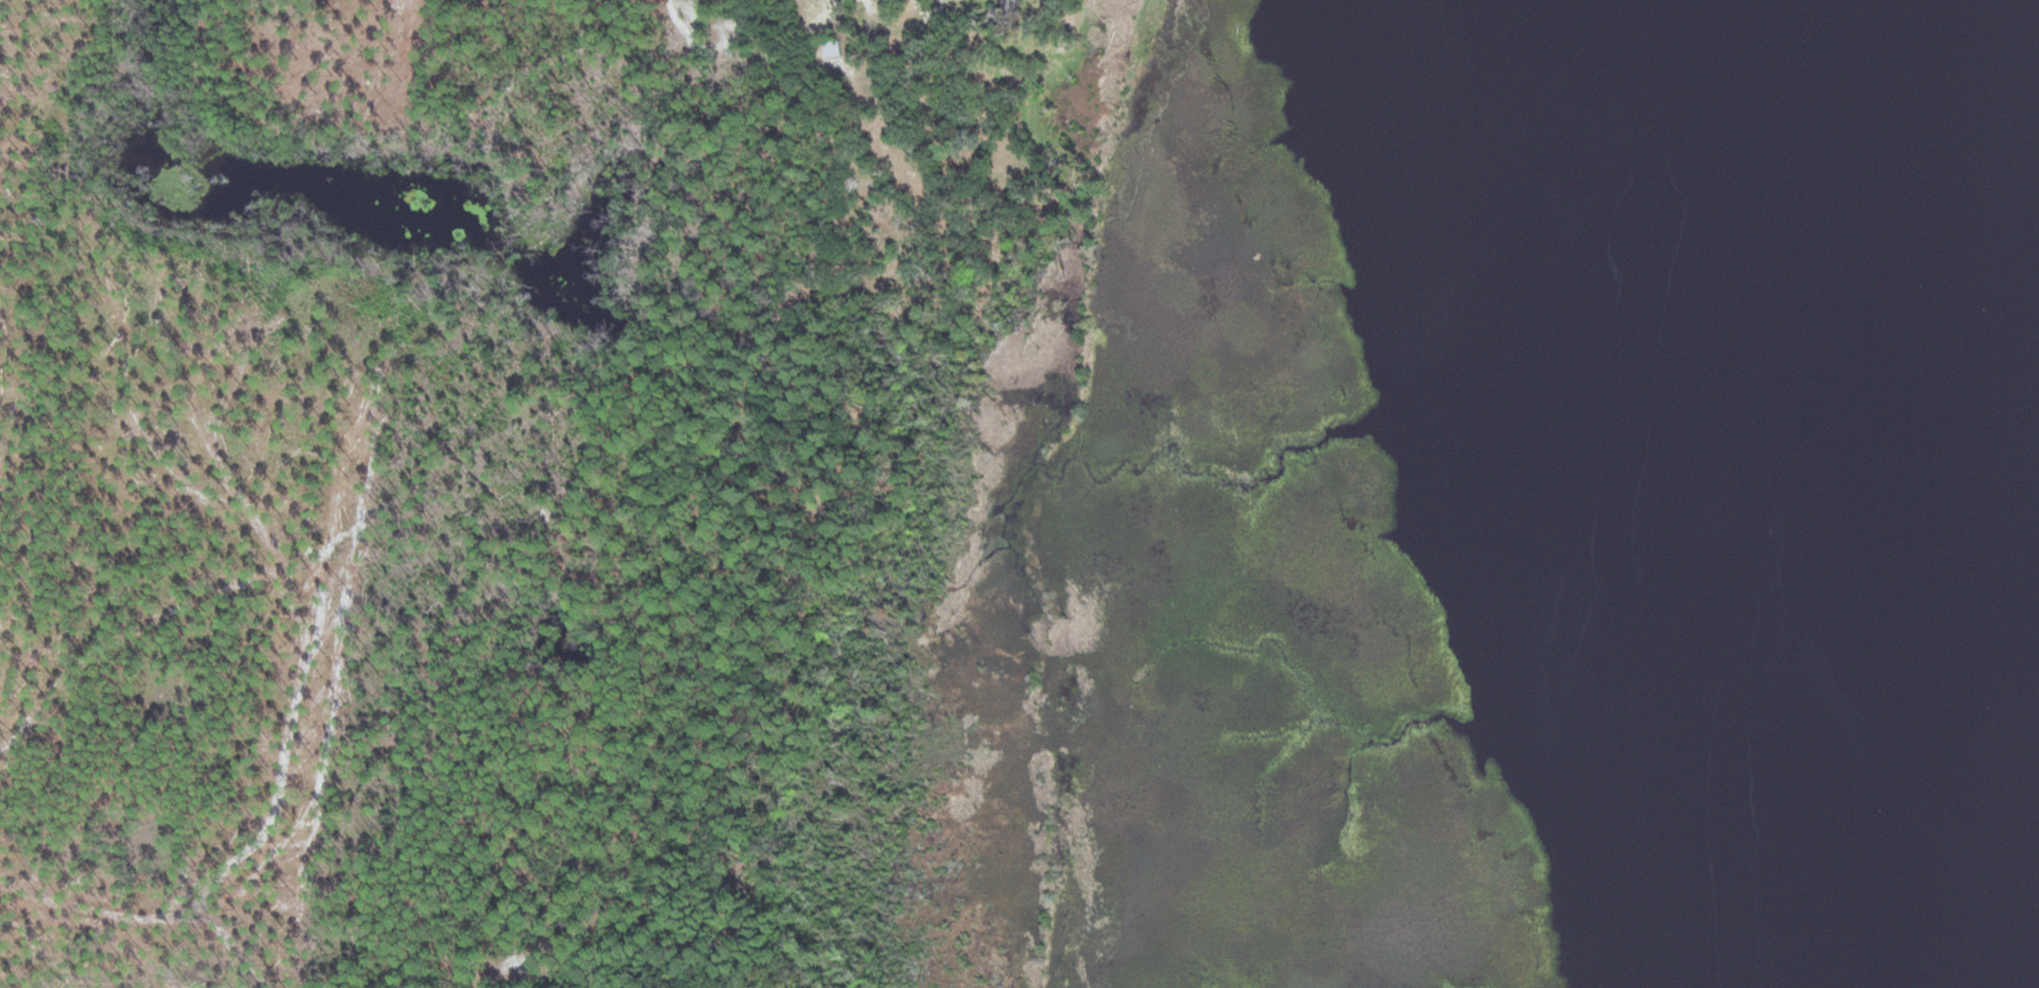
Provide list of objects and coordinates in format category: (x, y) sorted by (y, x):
building: (1007, 12)

